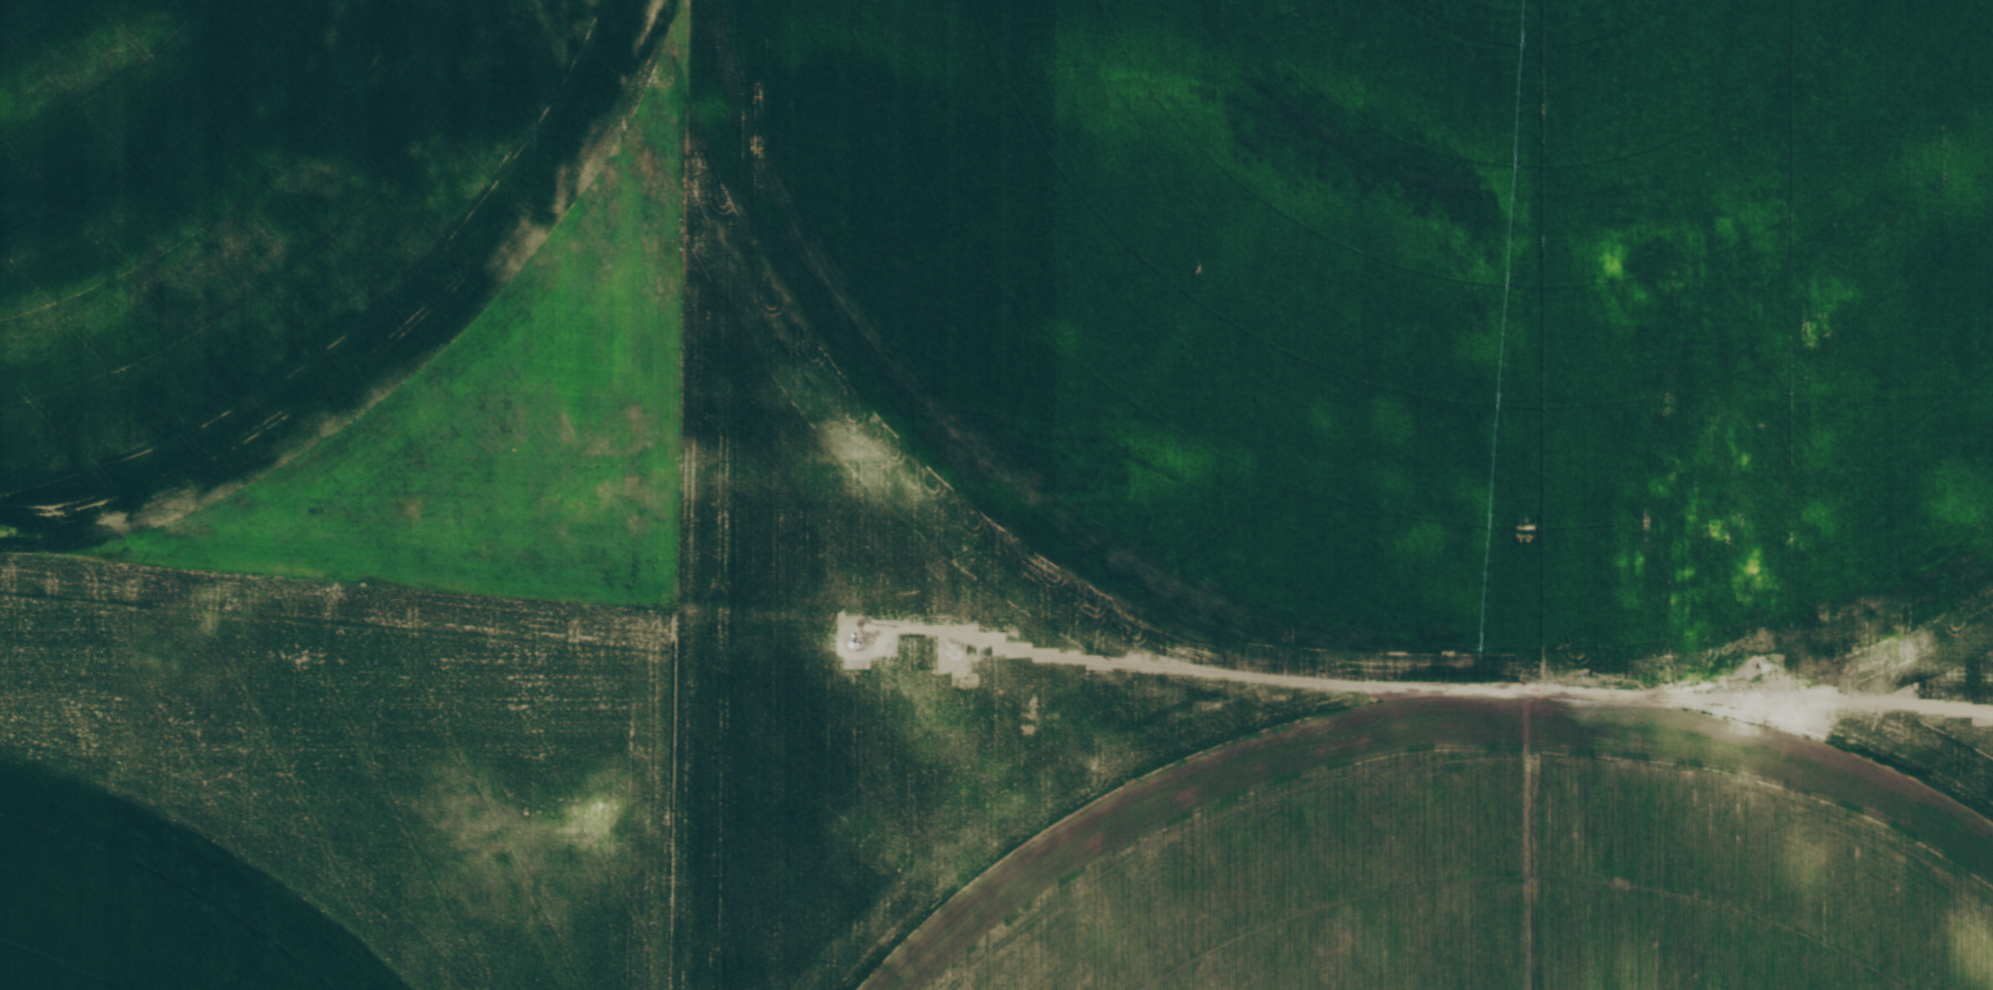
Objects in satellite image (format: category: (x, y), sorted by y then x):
building: (1753, 700)
building: (1788, 703)

